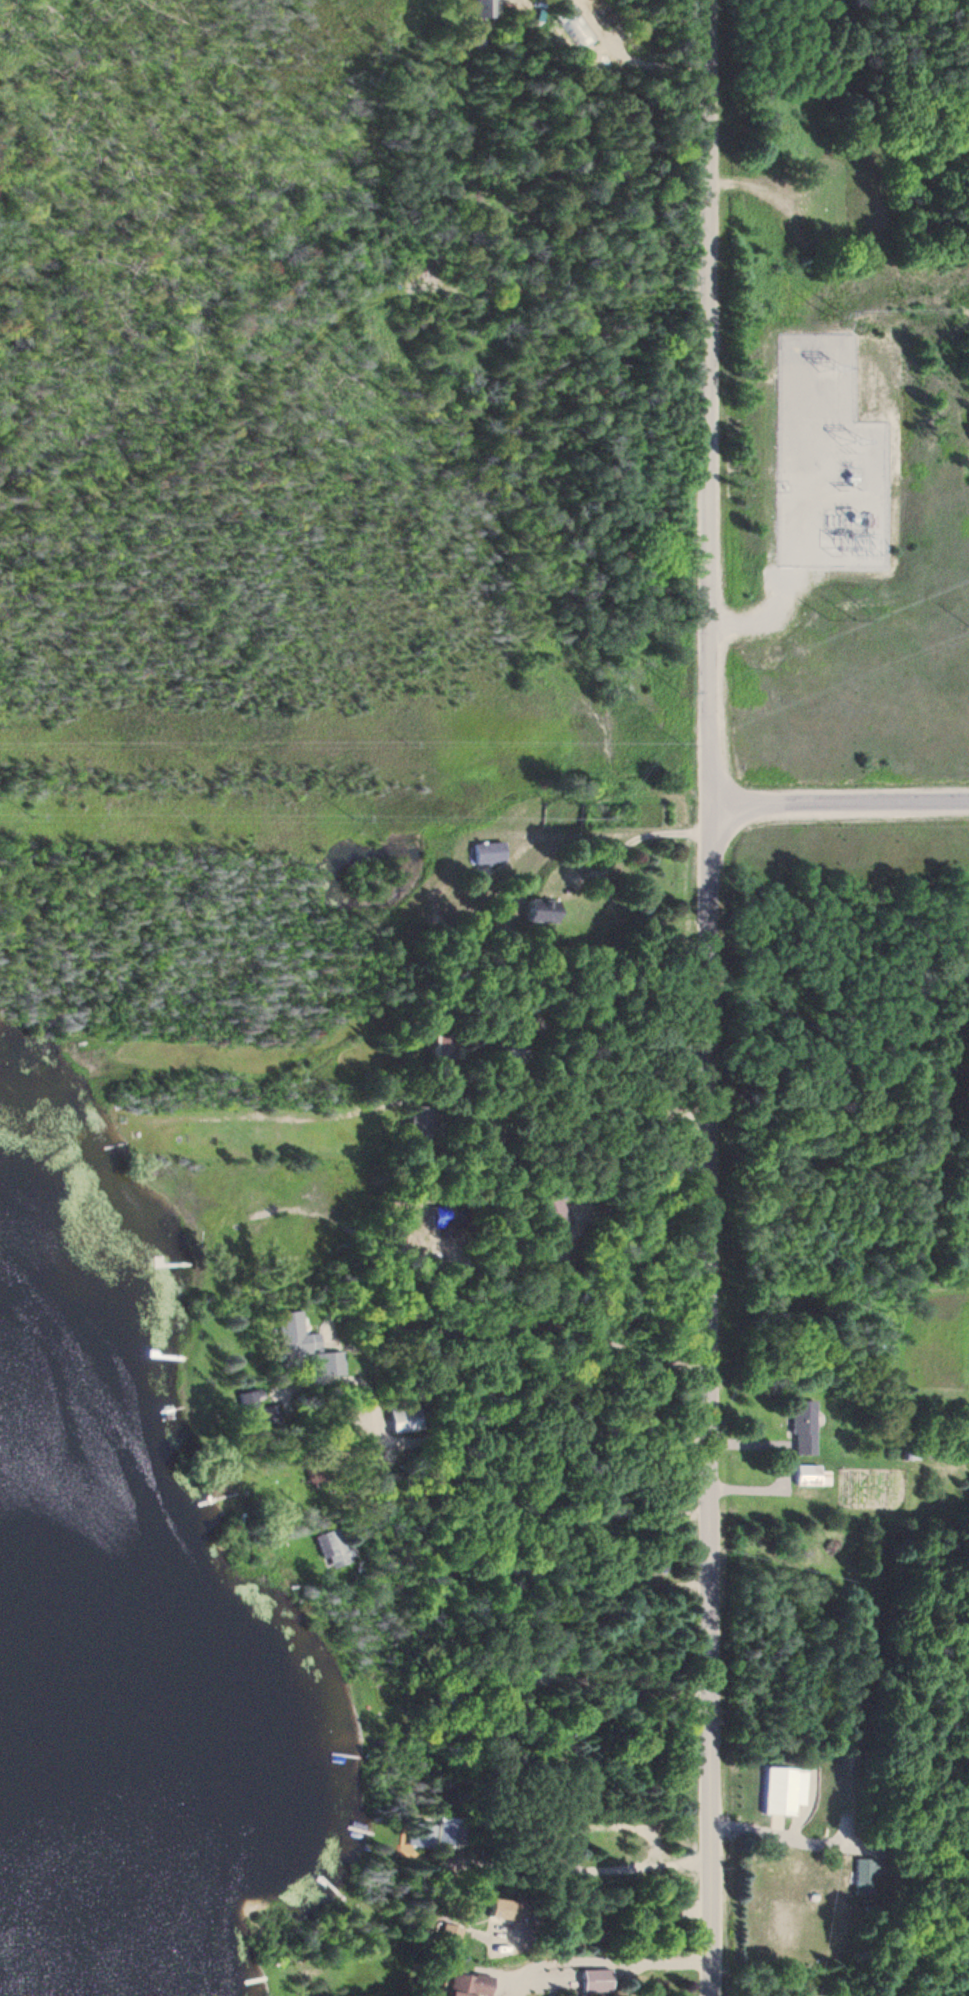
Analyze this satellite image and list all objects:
building: (483, 8)
power tower: (834, 366)
power substation: (830, 461)
road: (839, 805)
building: (487, 854)
building: (538, 911)
road: (710, 997)
building: (442, 1052)
building: (513, 1058)
road: (470, 1092)
building: (420, 1119)
building: (547, 1214)
road: (502, 1267)
road: (559, 1330)
building: (306, 1346)
building: (405, 1417)
building: (802, 1429)
building: (808, 1477)
road: (560, 1507)
road: (562, 1545)
building: (336, 1548)
building: (657, 1563)
road: (547, 1568)
road: (634, 1733)
building: (781, 1791)
building: (440, 1835)
road: (577, 1857)
building: (863, 1877)
building: (494, 1912)
road: (612, 1927)
building: (447, 1939)
building: (592, 1981)
building: (463, 1985)

